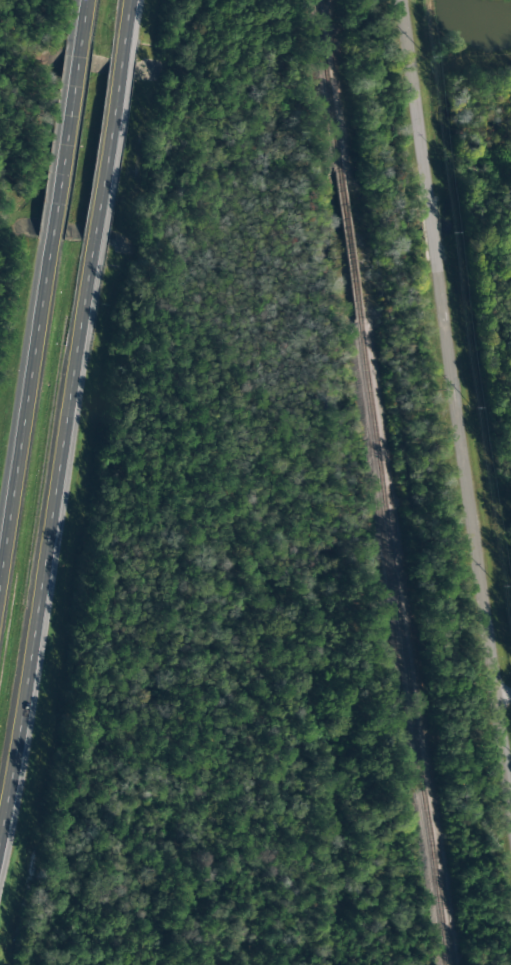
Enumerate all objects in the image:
road: (84, 26)
road: (124, 31)
road: (65, 150)
road: (105, 160)
road: (457, 394)
road: (24, 408)
railway: (381, 482)
road: (46, 542)
road: (505, 693)

